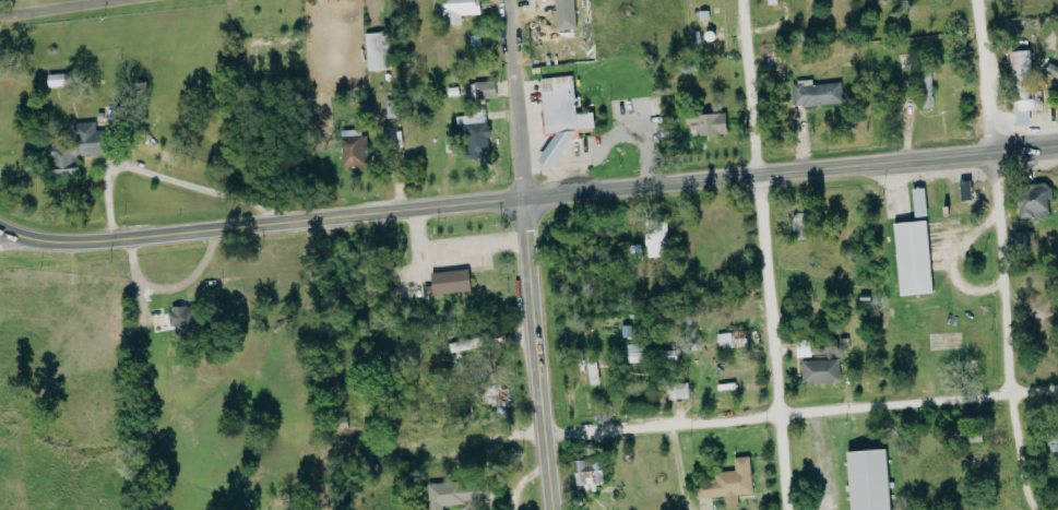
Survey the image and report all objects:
building: (774, 1)
road: (52, 7)
building: (459, 9)
building: (566, 13)
building: (273, 43)
building: (377, 50)
building: (1051, 70)
road: (978, 75)
building: (923, 80)
building: (1023, 86)
building: (483, 90)
building: (816, 93)
road: (512, 99)
building: (391, 108)
building: (561, 116)
building: (708, 123)
building: (474, 133)
building: (353, 149)
building: (74, 150)
road: (788, 169)
building: (1035, 200)
building: (919, 202)
road: (259, 223)
building: (800, 225)
road: (4, 236)
building: (656, 239)
road: (451, 246)
road: (761, 254)
building: (913, 257)
road: (949, 262)
road: (998, 271)
building: (449, 282)
building: (182, 319)
building: (732, 339)
building: (635, 353)
road: (534, 355)
building: (820, 370)
building: (678, 390)
building: (499, 398)
road: (799, 410)
building: (589, 473)
building: (869, 479)
building: (728, 483)
building: (456, 493)

